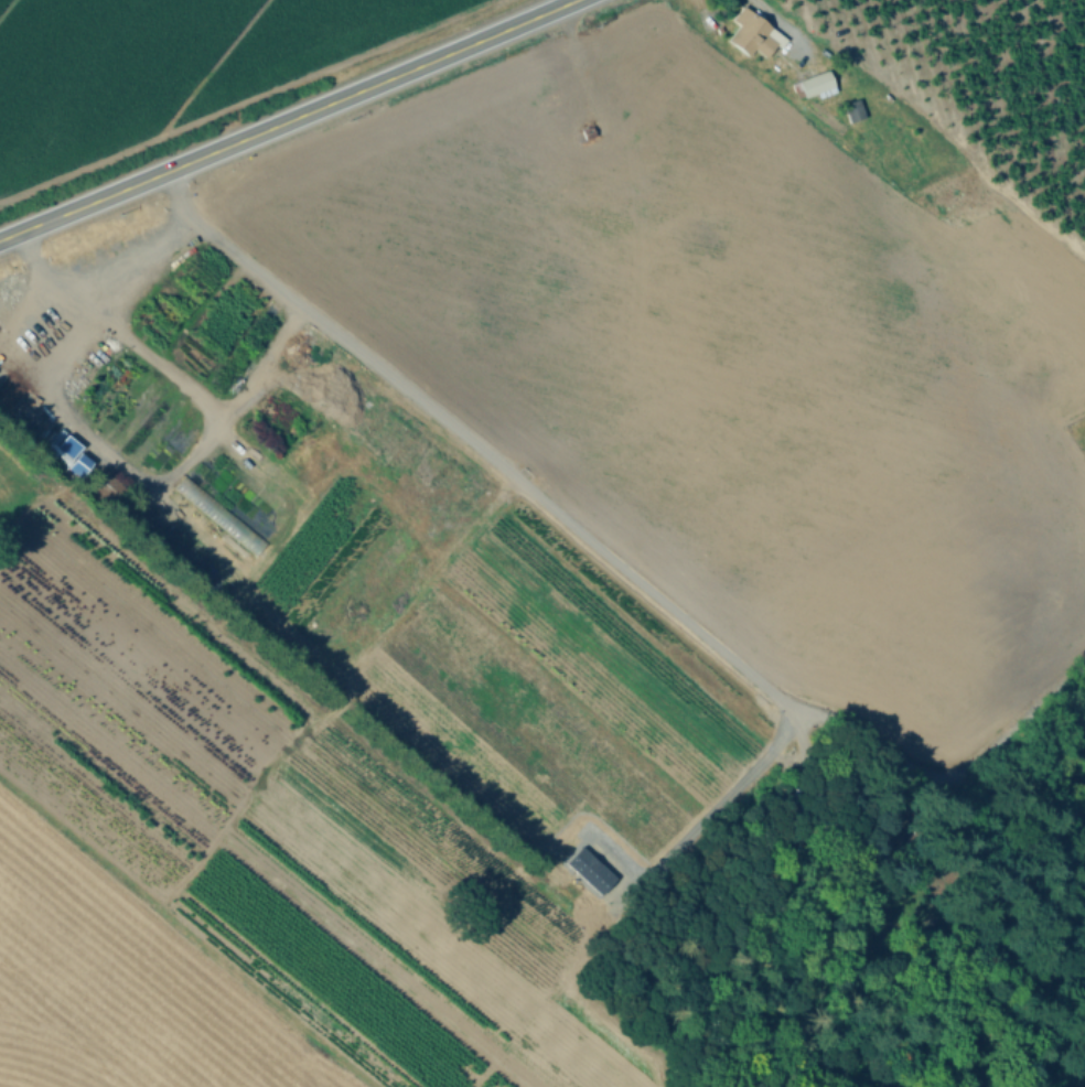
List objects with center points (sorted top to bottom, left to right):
road: (776, 14)
building: (743, 31)
crop: (168, 69)
building: (814, 87)
building: (852, 112)
road: (288, 121)
building: (58, 451)
road: (504, 463)
road: (143, 466)
crop: (346, 678)
road: (729, 782)
crop: (117, 989)

